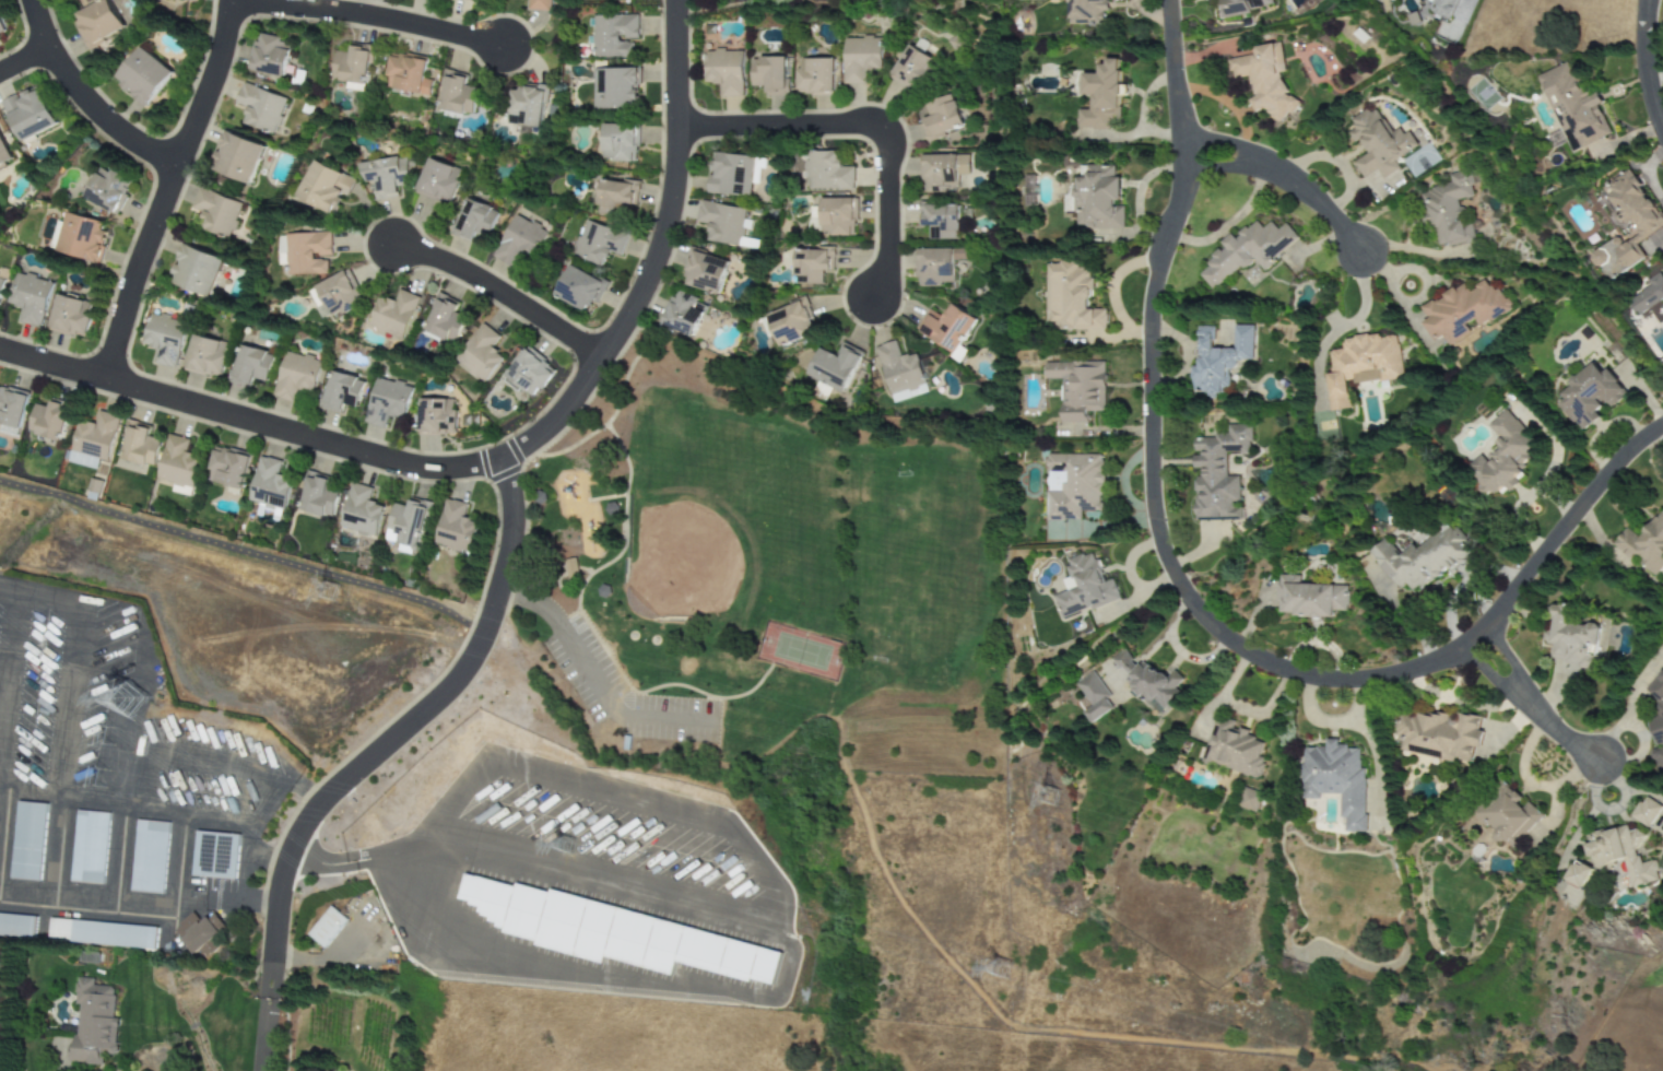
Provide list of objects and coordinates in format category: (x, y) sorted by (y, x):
building: (187, 0)
building: (482, 1)
building: (540, 4)
building: (1245, 5)
building: (1443, 7)
building: (1088, 12)
road: (367, 13)
building: (97, 22)
building: (2, 26)
building: (614, 35)
building: (270, 55)
road: (22, 58)
building: (859, 58)
building: (911, 66)
building: (354, 67)
road: (1642, 68)
building: (724, 71)
building: (408, 74)
building: (143, 75)
building: (769, 75)
building: (815, 75)
building: (1265, 80)
building: (616, 89)
building: (457, 94)
building: (1101, 96)
road: (80, 99)
building: (528, 105)
building: (260, 107)
building: (1574, 107)
building: (28, 114)
building: (941, 117)
road: (863, 126)
building: (621, 142)
building: (1378, 143)
building: (3, 153)
building: (237, 157)
building: (758, 170)
building: (942, 172)
building: (827, 173)
building: (731, 174)
building: (385, 176)
road: (1287, 178)
building: (437, 180)
road: (165, 185)
building: (323, 187)
building: (108, 190)
building: (614, 196)
building: (1097, 198)
building: (1448, 209)
building: (216, 212)
building: (837, 216)
building: (940, 220)
building: (475, 221)
building: (723, 224)
building: (1628, 224)
building: (83, 237)
building: (520, 240)
building: (598, 243)
building: (1247, 250)
building: (813, 263)
building: (936, 266)
building: (197, 270)
building: (705, 271)
building: (1, 285)
building: (580, 287)
road: (499, 292)
building: (340, 293)
building: (1650, 294)
building: (31, 298)
building: (1072, 298)
building: (1462, 310)
building: (394, 314)
building: (685, 314)
building: (71, 316)
building: (445, 321)
building: (790, 323)
road: (1347, 326)
building: (946, 327)
building: (165, 338)
building: (481, 354)
building: (207, 356)
building: (1220, 358)
building: (1360, 365)
building: (250, 366)
building: (834, 367)
building: (531, 372)
building: (900, 373)
building: (296, 375)
building: (1078, 388)
building: (342, 391)
building: (1590, 396)
building: (387, 401)
road: (583, 404)
building: (12, 410)
road: (611, 414)
building: (437, 415)
building: (49, 421)
building: (140, 446)
building: (1502, 457)
road: (502, 459)
building: (179, 466)
building: (228, 469)
building: (1218, 473)
building: (270, 484)
building: (1073, 485)
road: (605, 496)
building: (320, 497)
building: (539, 497)
road: (539, 505)
road: (524, 506)
building: (611, 509)
building: (362, 510)
building: (408, 522)
building: (456, 528)
building: (1644, 544)
park: (771, 546)
road: (243, 552)
building: (1422, 558)
park: (680, 564)
building: (570, 567)
road: (582, 569)
building: (1084, 587)
building: (602, 591)
power tower: (332, 596)
building: (1309, 598)
road: (1186, 599)
road: (565, 617)
road: (588, 627)
building: (1571, 638)
park: (800, 651)
road: (591, 678)
building: (1147, 679)
road: (7, 685)
building: (1094, 698)
power tower: (132, 703)
road: (1531, 705)
road: (71, 709)
building: (1656, 719)
road: (399, 732)
building: (1439, 735)
power tower: (110, 740)
building: (1232, 749)
road: (135, 758)
building: (1335, 779)
power tower: (98, 780)
power tower: (1052, 799)
building: (1248, 800)
building: (1646, 812)
building: (1507, 815)
road: (121, 822)
road: (237, 824)
building: (28, 840)
building: (89, 847)
power tower: (567, 848)
road: (252, 852)
building: (1620, 854)
building: (215, 855)
building: (149, 857)
building: (1577, 875)
road: (26, 893)
road: (163, 906)
building: (17, 925)
building: (327, 927)
building: (614, 932)
building: (103, 933)
building: (200, 933)
power tower: (1006, 974)
road: (696, 982)
building: (94, 1022)
road: (264, 1034)

